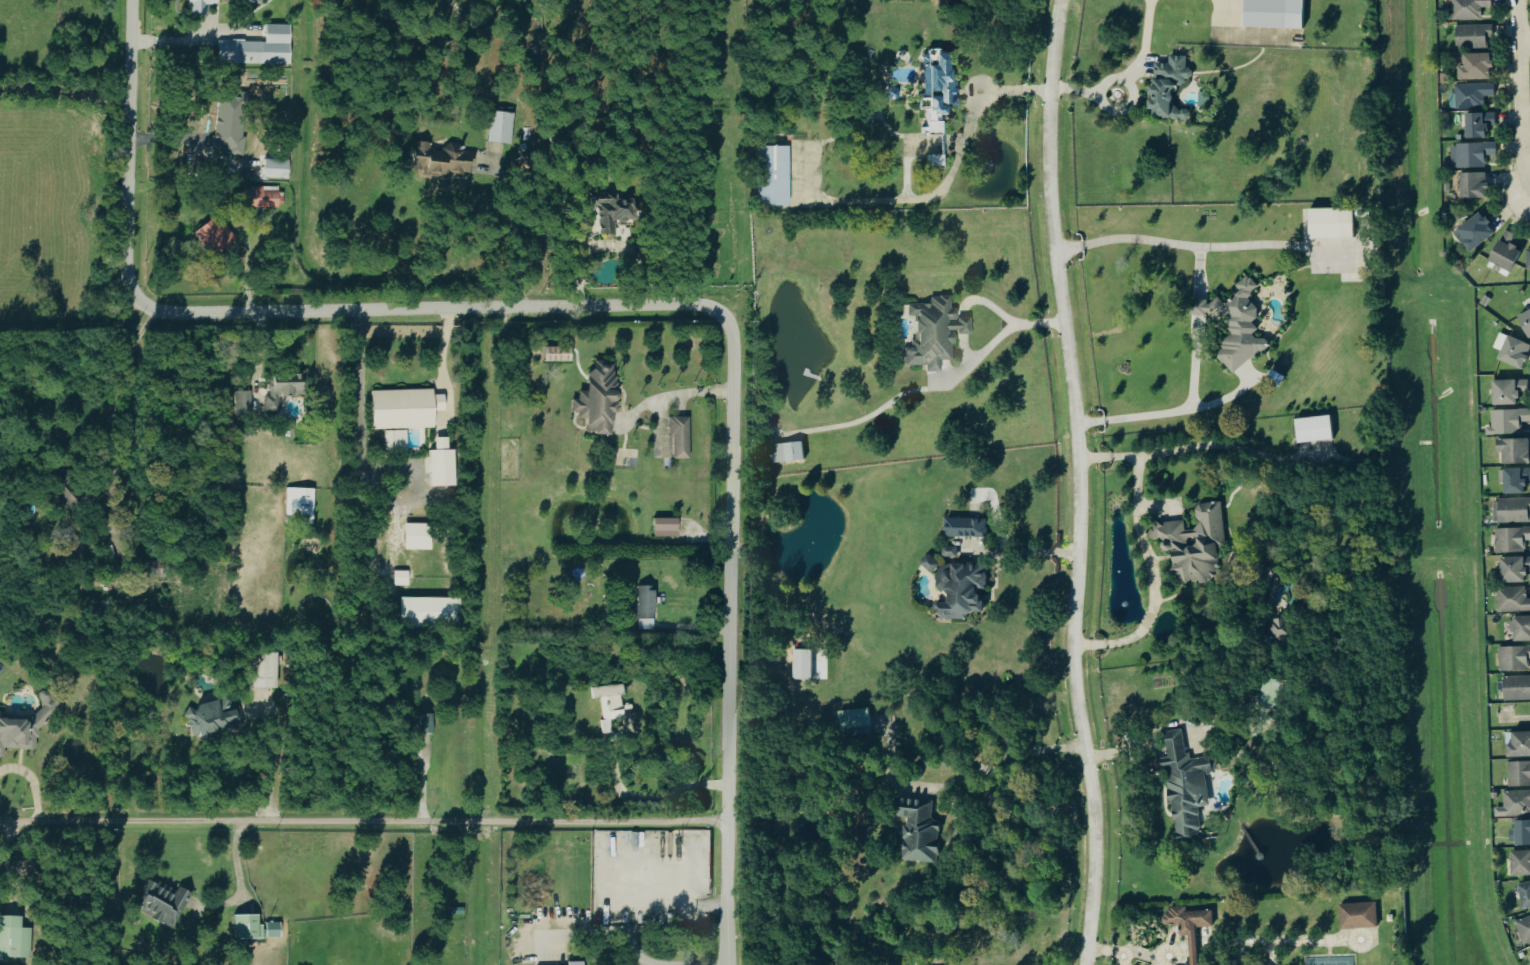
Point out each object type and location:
building: (197, 7)
building: (1469, 9)
building: (1275, 14)
building: (1473, 36)
road: (1525, 40)
building: (256, 47)
building: (1474, 66)
road: (1129, 75)
building: (1167, 88)
building: (936, 91)
building: (1472, 94)
road: (65, 99)
road: (1521, 100)
road: (1125, 109)
building: (228, 119)
building: (1478, 124)
building: (498, 127)
building: (1471, 154)
building: (438, 158)
building: (273, 168)
building: (772, 174)
building: (1473, 185)
road: (941, 191)
building: (259, 196)
road: (1527, 201)
building: (610, 211)
building: (1331, 223)
building: (1474, 232)
building: (213, 234)
building: (1504, 252)
building: (1528, 256)
building: (1485, 301)
road: (605, 304)
road: (1196, 315)
road: (1004, 316)
building: (1525, 321)
road: (962, 326)
building: (1236, 326)
building: (932, 333)
road: (77, 340)
building: (1514, 351)
building: (554, 352)
road: (984, 352)
road: (259, 360)
road: (441, 365)
building: (1275, 378)
building: (281, 386)
building: (1508, 390)
building: (243, 399)
building: (594, 399)
building: (401, 407)
road: (361, 411)
building: (1508, 420)
building: (1314, 430)
building: (678, 435)
building: (393, 438)
building: (1513, 449)
building: (787, 453)
building: (441, 467)
building: (1515, 479)
road: (1079, 482)
building: (65, 492)
building: (298, 502)
building: (1512, 510)
building: (964, 526)
building: (665, 527)
building: (416, 535)
building: (1511, 538)
building: (1193, 542)
building: (949, 550)
road: (1144, 551)
building: (929, 562)
building: (156, 567)
building: (1514, 568)
building: (400, 577)
building: (960, 590)
building: (1513, 598)
building: (643, 606)
building: (428, 612)
building: (1278, 627)
building: (1521, 627)
building: (1514, 657)
building: (803, 664)
building: (260, 668)
building: (1516, 687)
building: (1270, 692)
building: (608, 704)
building: (212, 715)
building: (423, 721)
building: (854, 722)
building: (1518, 743)
road: (1009, 757)
road: (272, 761)
building: (1518, 773)
road: (33, 781)
building: (1185, 784)
road: (659, 794)
building: (1514, 803)
road: (363, 821)
building: (917, 829)
building: (1520, 832)
building: (1520, 862)
road: (238, 875)
building: (1524, 893)
building: (159, 901)
building: (455, 910)
building: (1357, 915)
building: (1189, 925)
building: (1524, 928)
building: (271, 929)
building: (13, 937)
road: (635, 949)
building: (573, 962)

